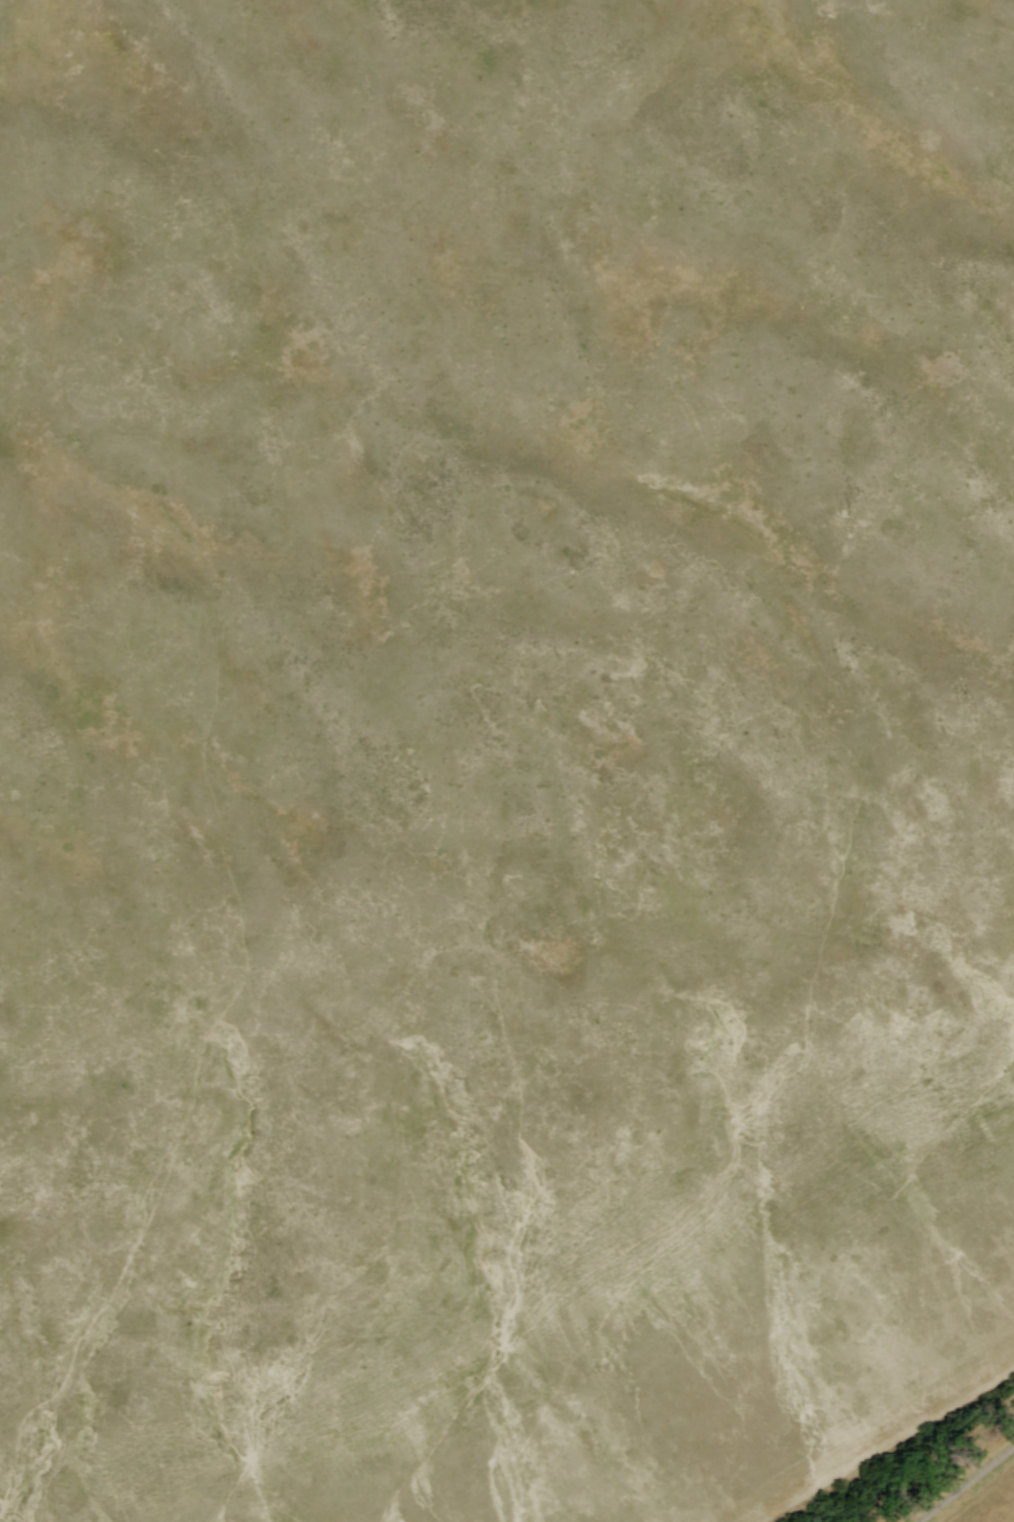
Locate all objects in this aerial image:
road: (965, 1483)

